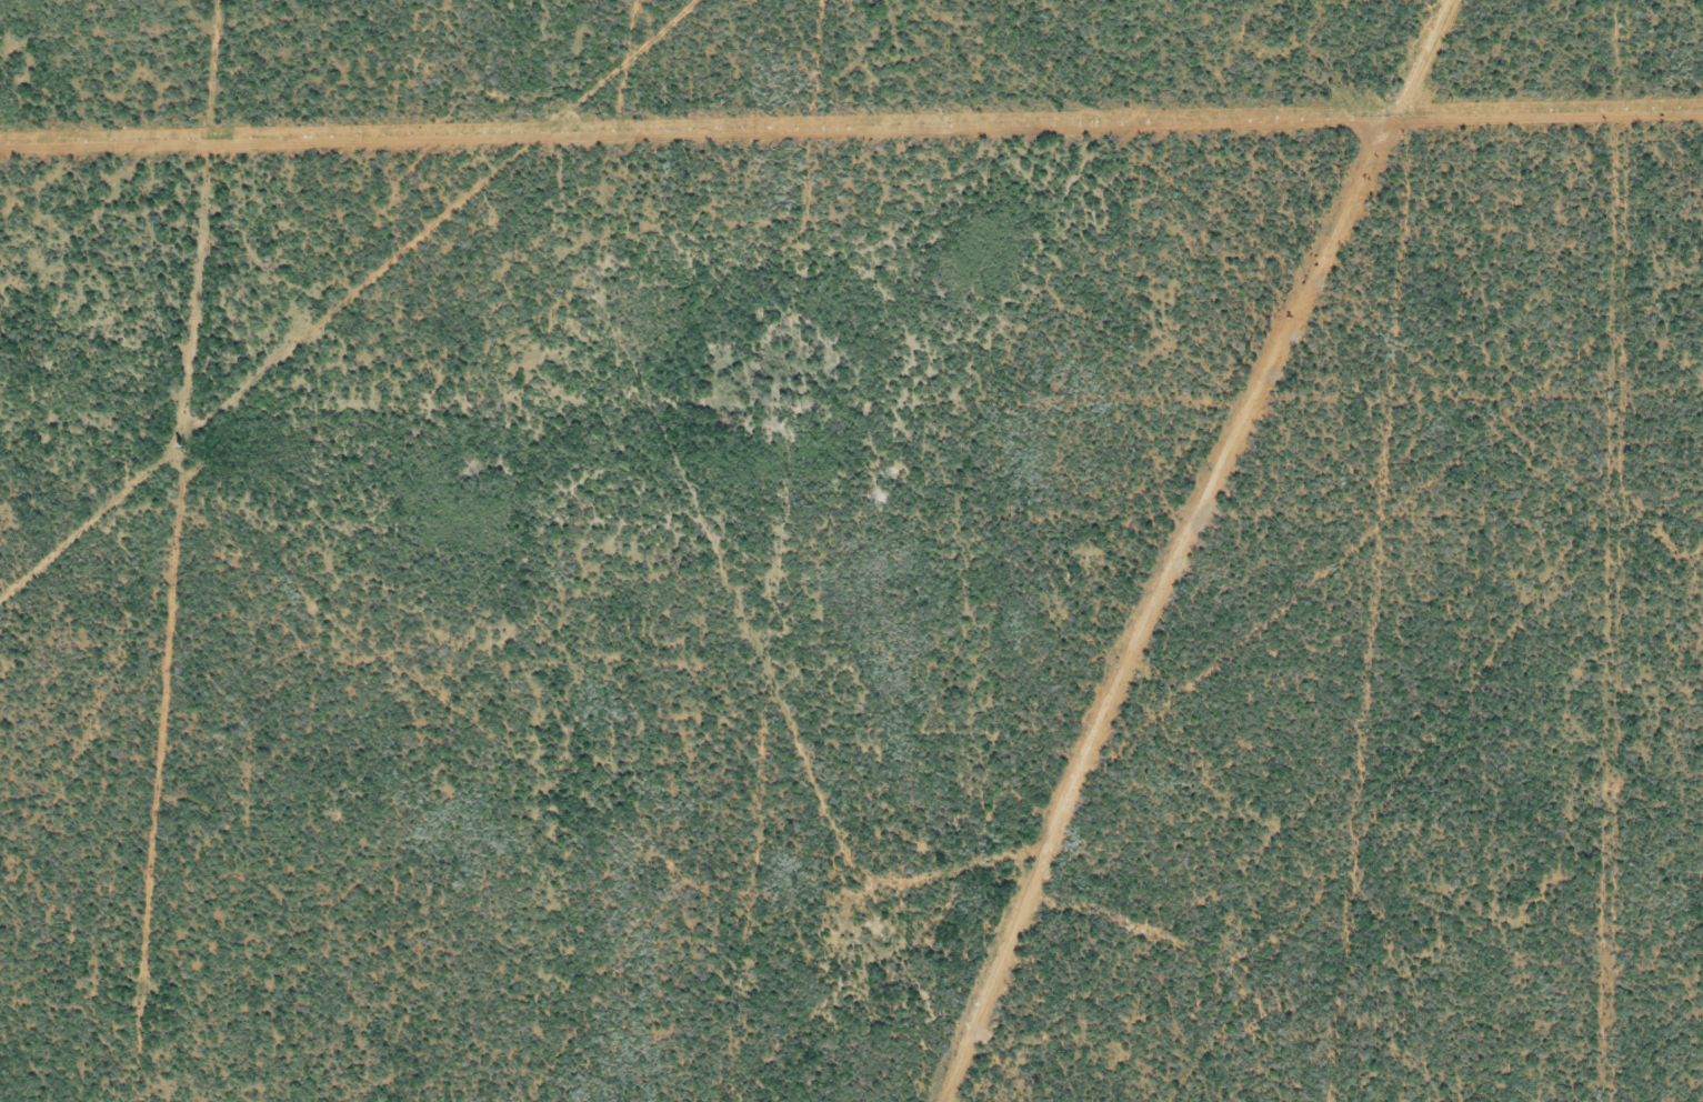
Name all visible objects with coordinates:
road: (1206, 544)

